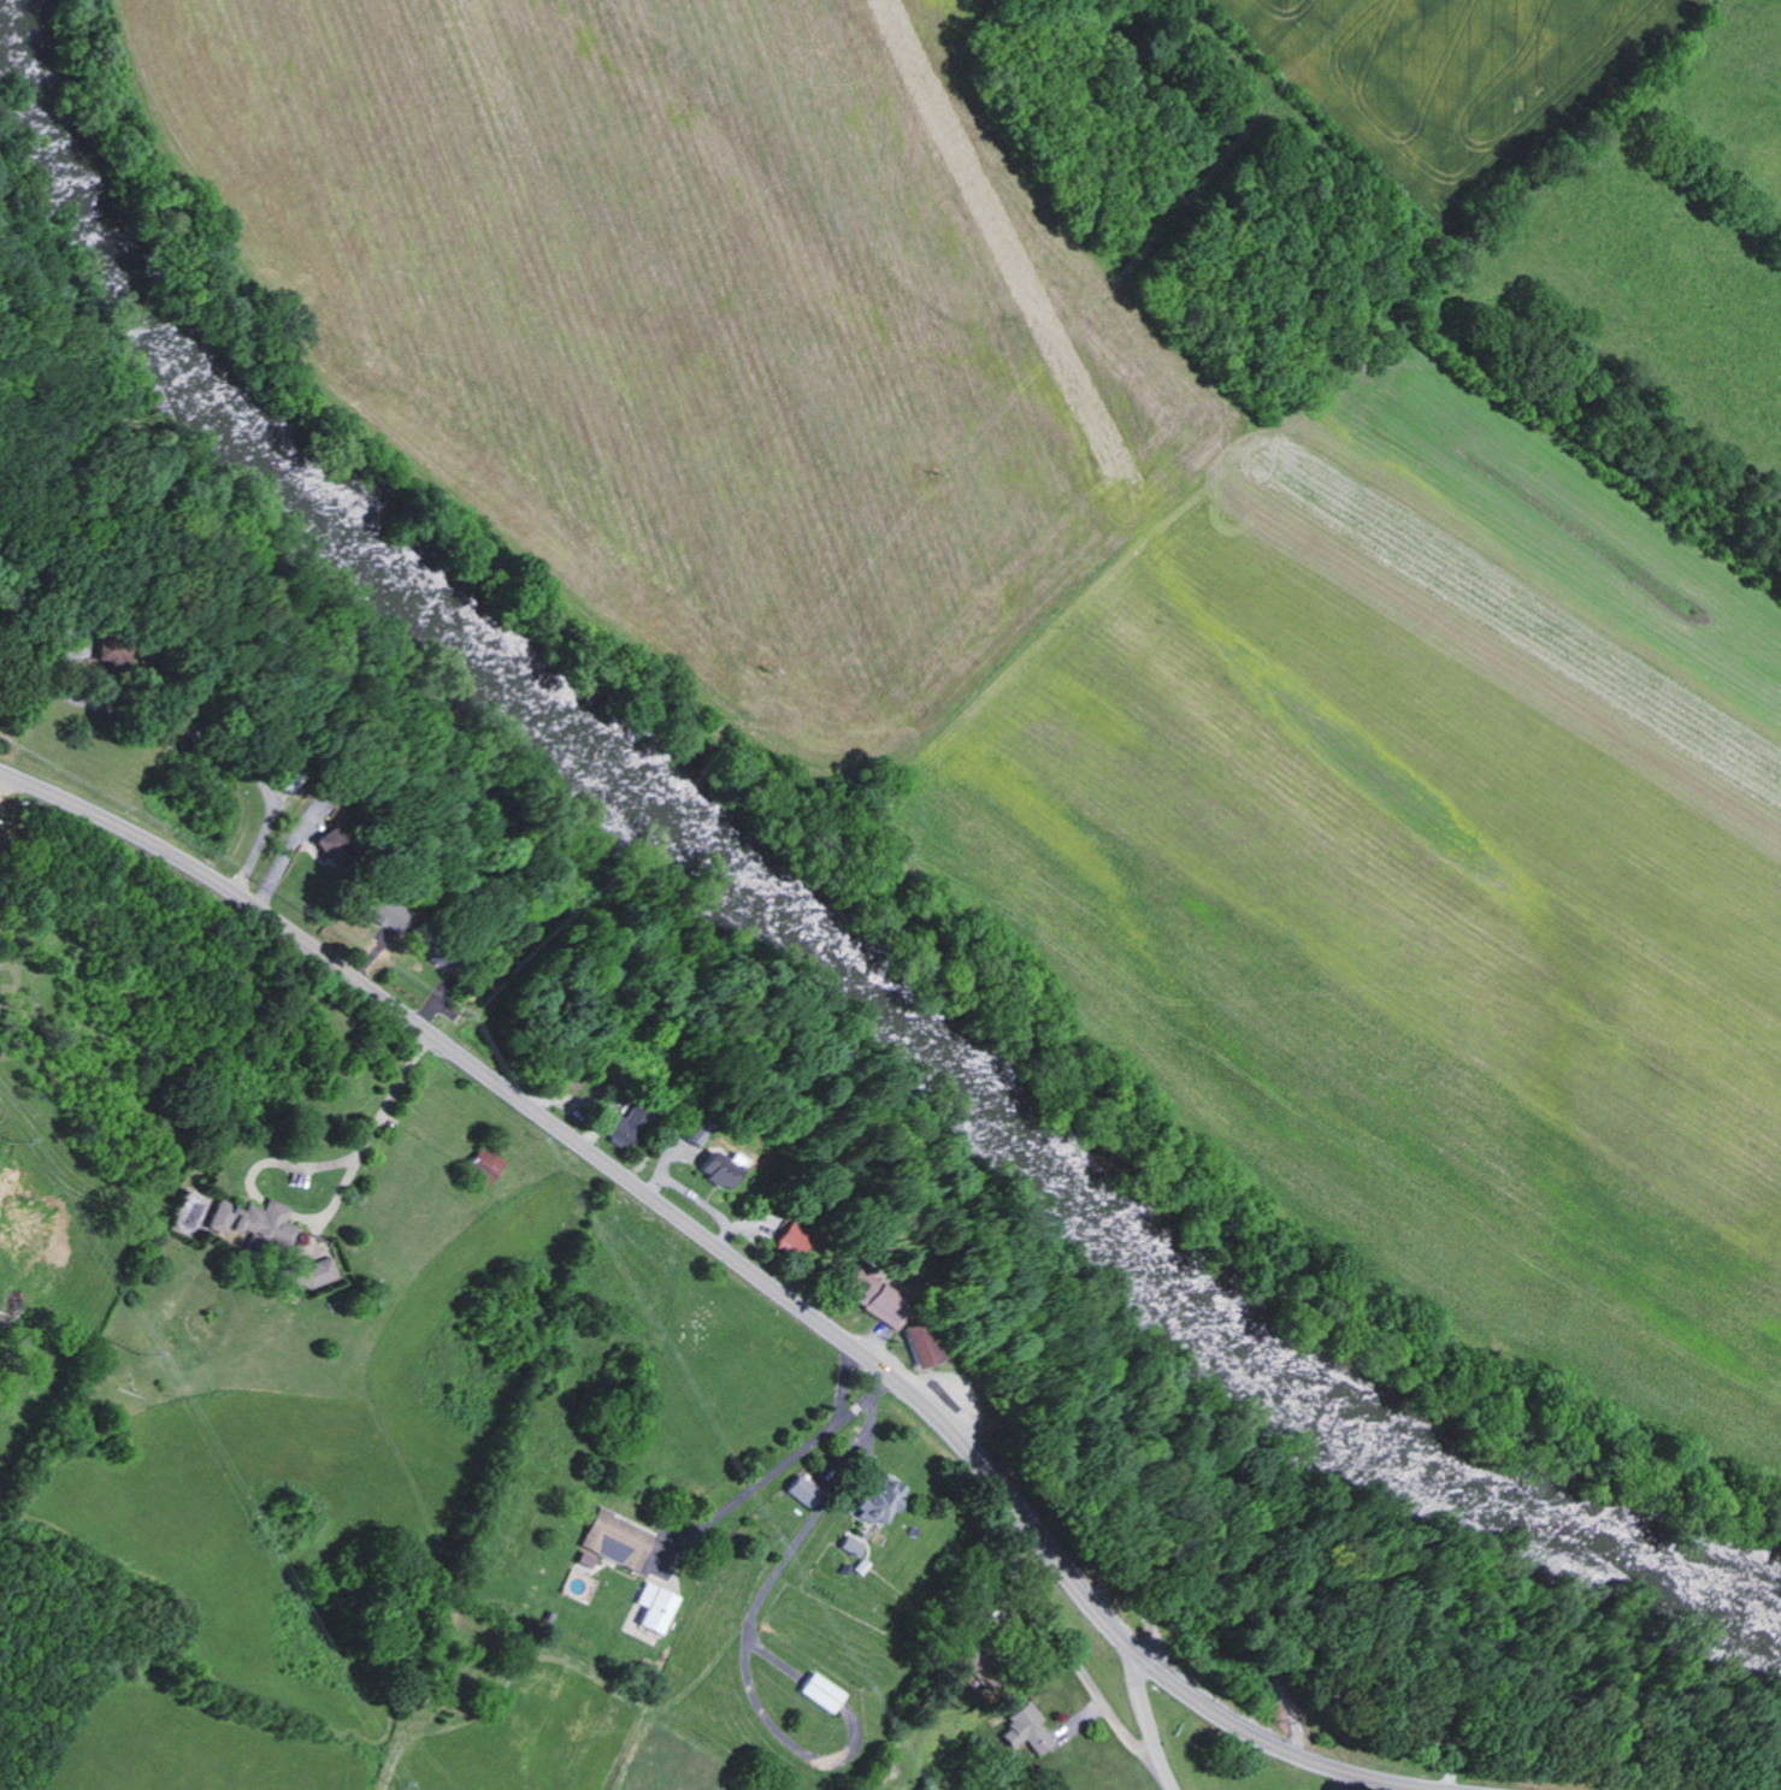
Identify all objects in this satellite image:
building: (108, 650)
road: (0, 775)
river: (795, 923)
building: (629, 1122)
road: (373, 1124)
building: (485, 1163)
building: (725, 1170)
building: (256, 1219)
road: (736, 1262)
building: (317, 1272)
building: (878, 1295)
building: (922, 1341)
road: (841, 1380)
road: (865, 1399)
road: (753, 1485)
building: (806, 1489)
building: (883, 1497)
road: (800, 1535)
building: (615, 1540)
building: (853, 1543)
building: (657, 1605)
building: (825, 1690)
building: (1027, 1727)
road: (1150, 1727)
road: (1358, 1784)

